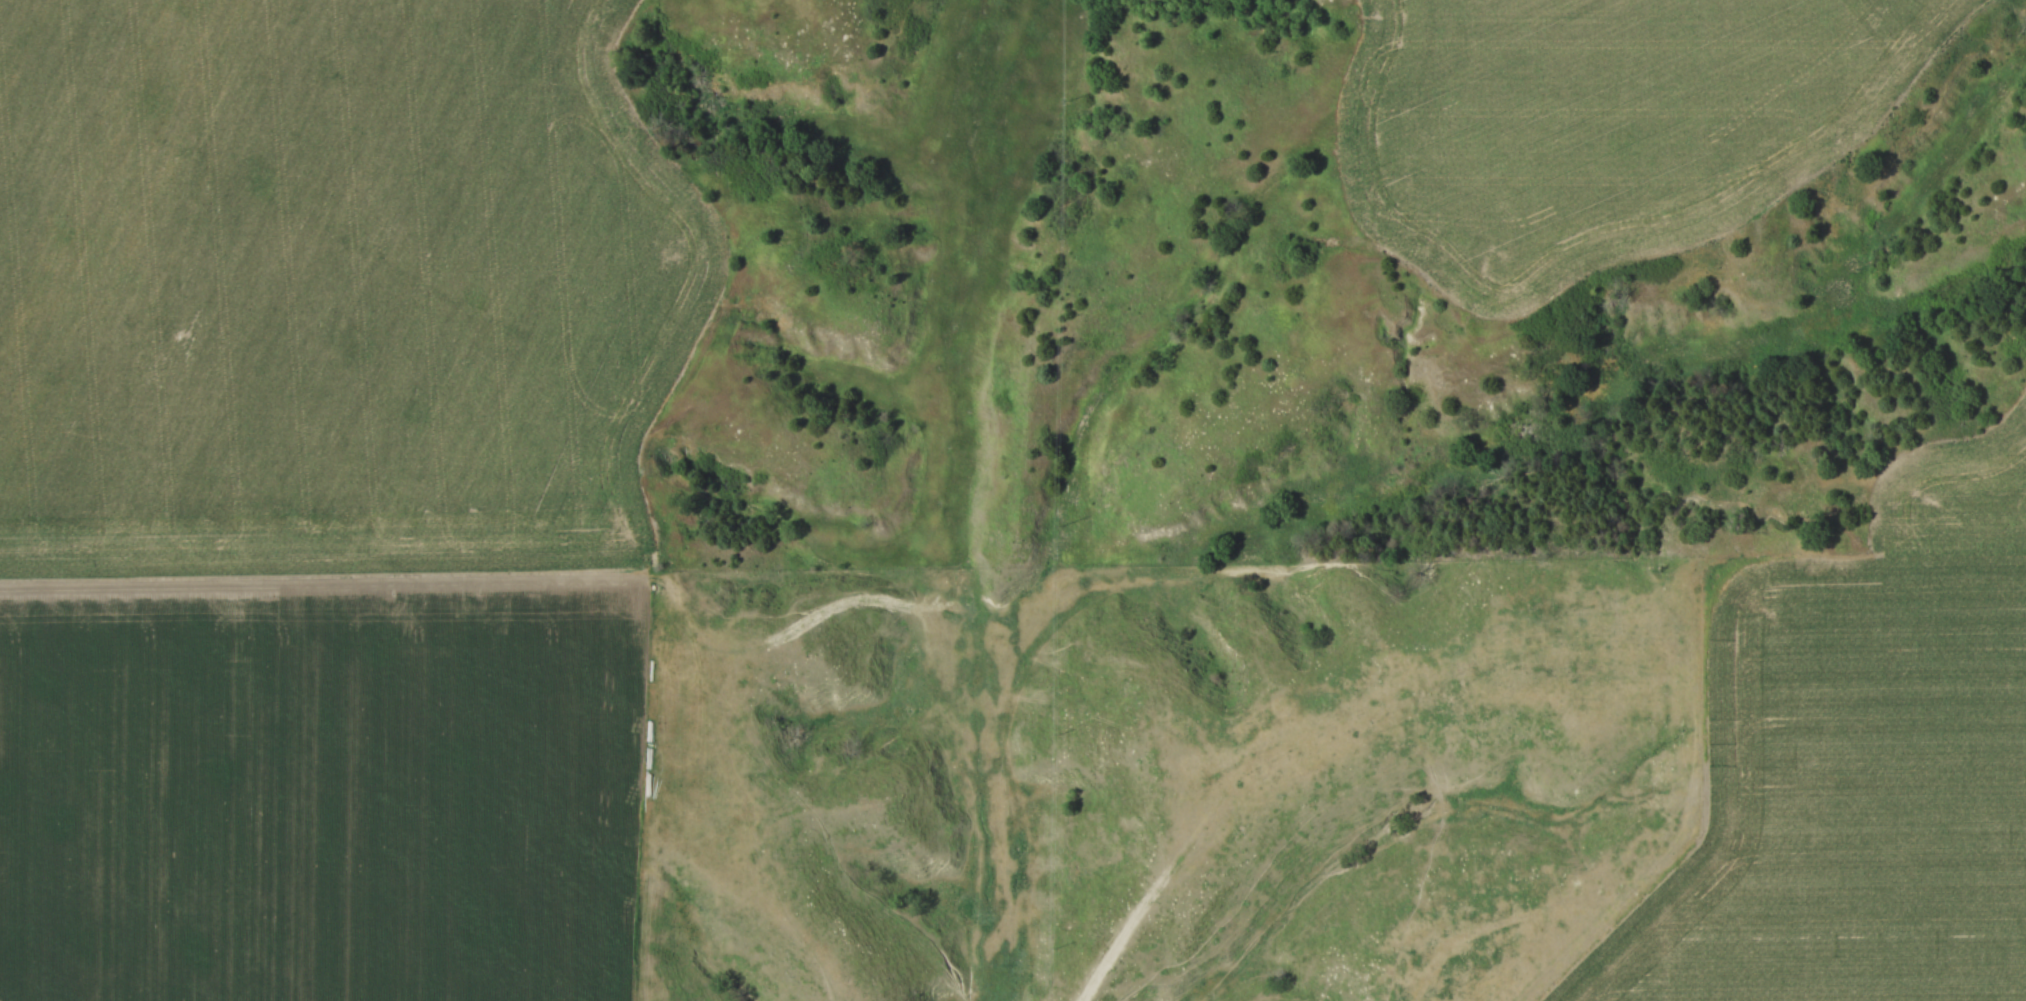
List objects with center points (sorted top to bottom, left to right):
crop: (1612, 122)
crop: (335, 284)
crop: (1859, 763)
crop: (328, 797)

